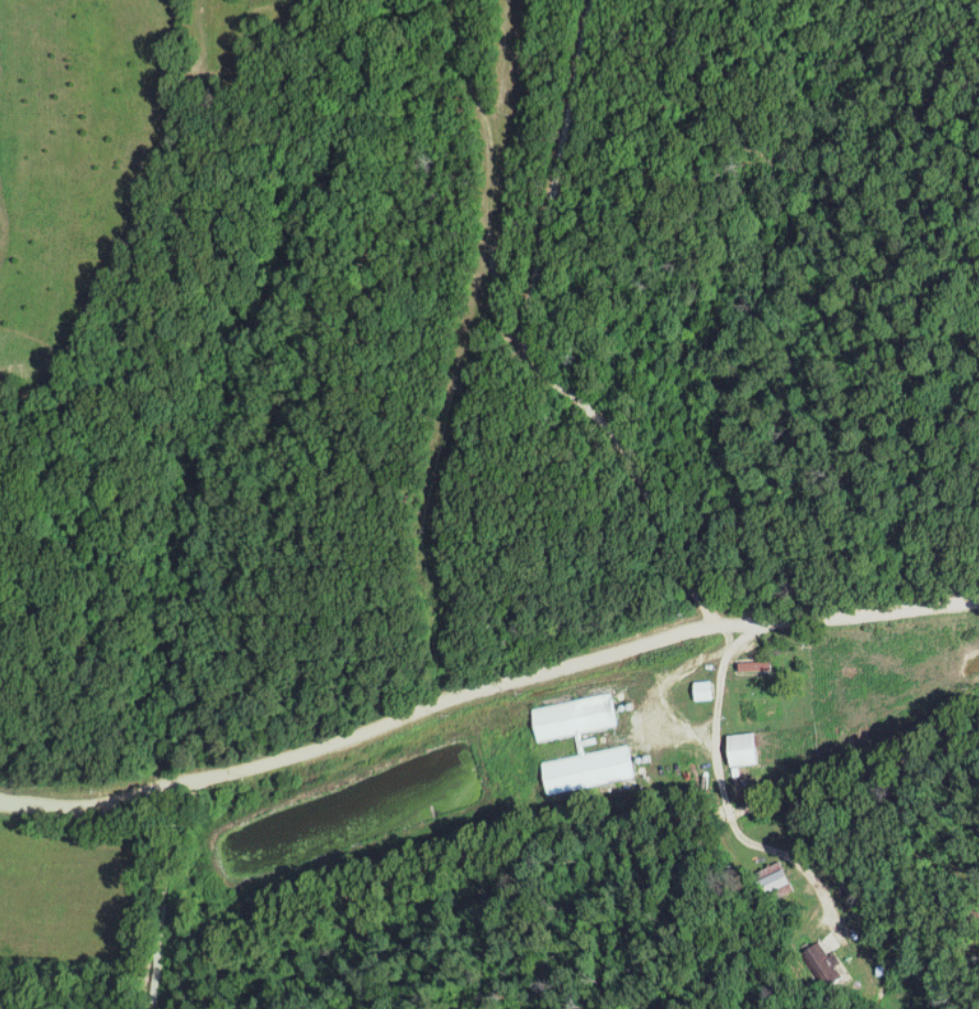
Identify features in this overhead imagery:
road: (647, 443)
road: (748, 634)
building: (758, 668)
road: (486, 689)
building: (705, 693)
building: (575, 719)
building: (746, 751)
building: (590, 771)
road: (725, 801)
building: (782, 880)
road: (168, 888)
building: (828, 966)

